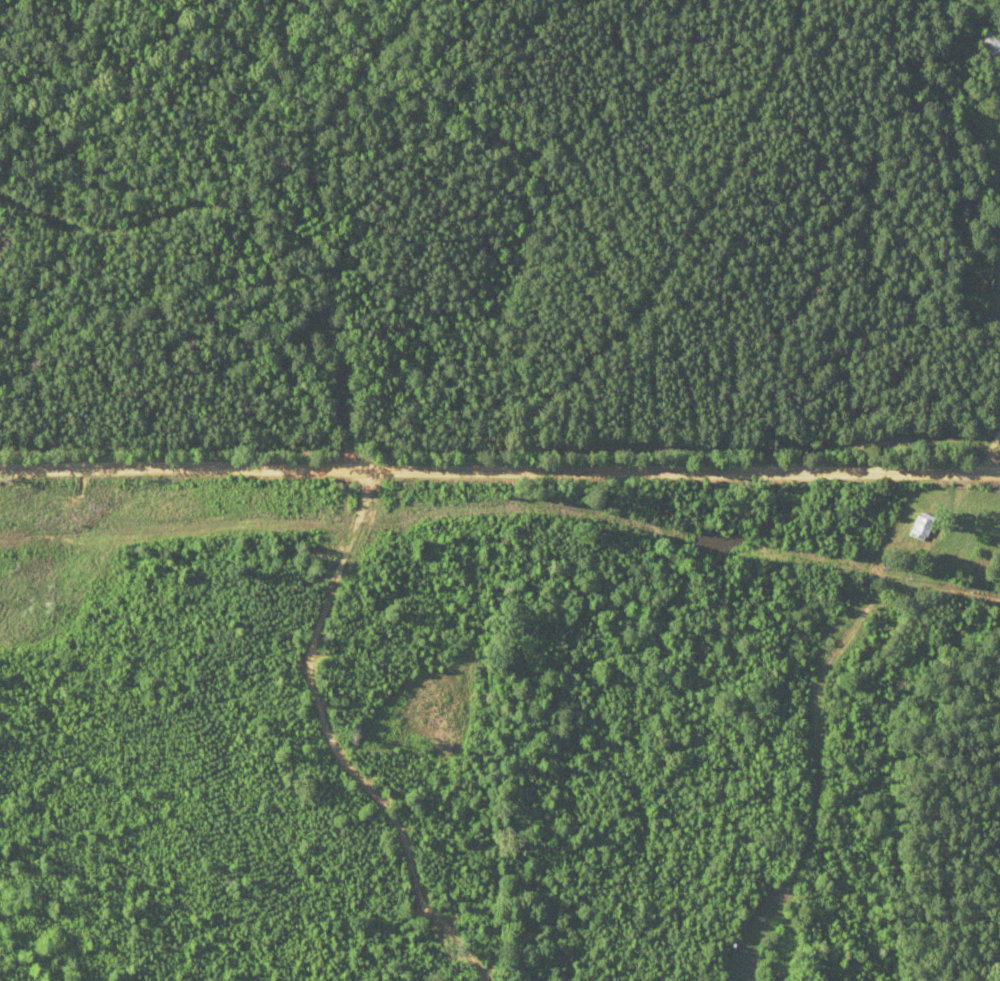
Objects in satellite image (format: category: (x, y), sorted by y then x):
building: (985, 46)
building: (992, 114)
road: (499, 479)
building: (910, 525)

